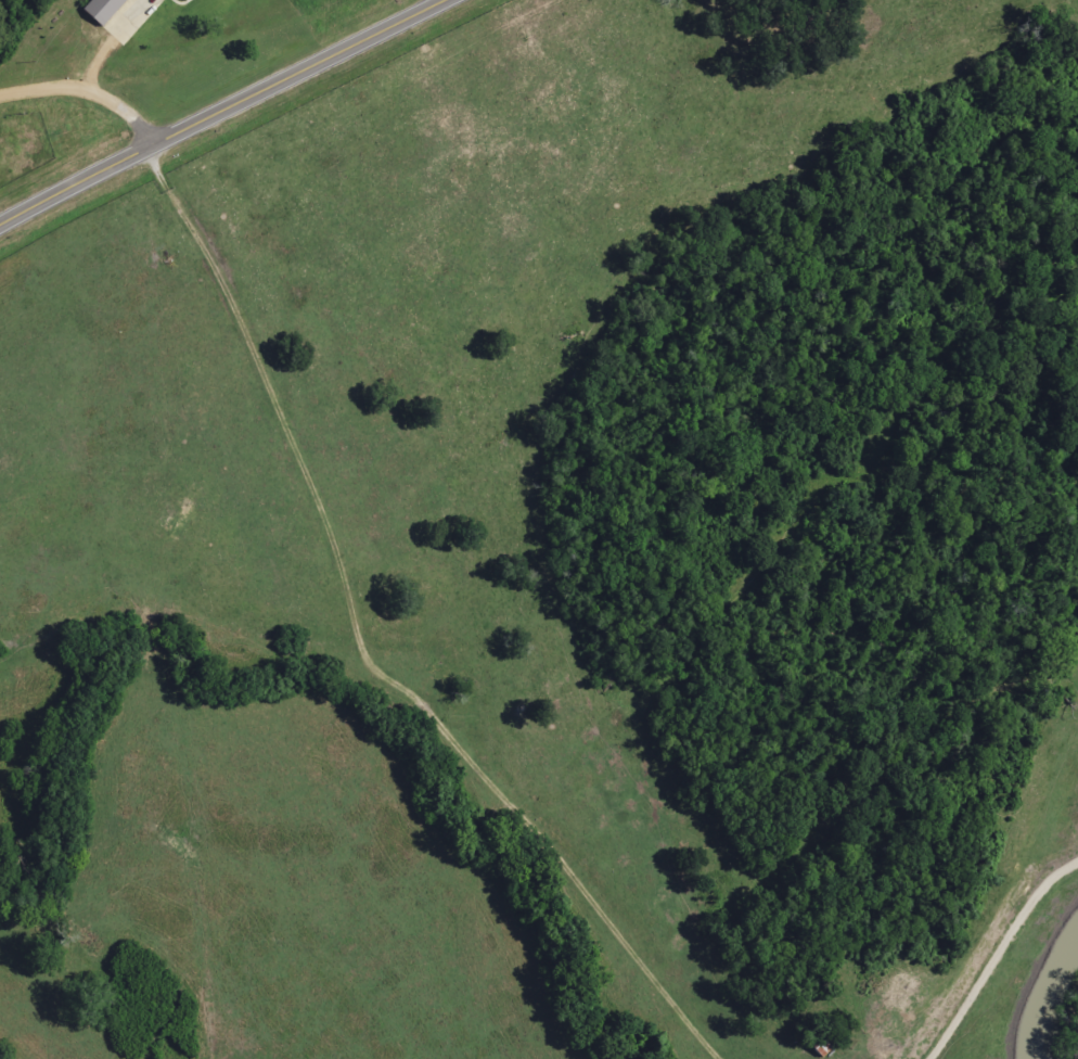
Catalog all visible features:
building: (101, 10)
road: (89, 89)
road: (223, 113)

